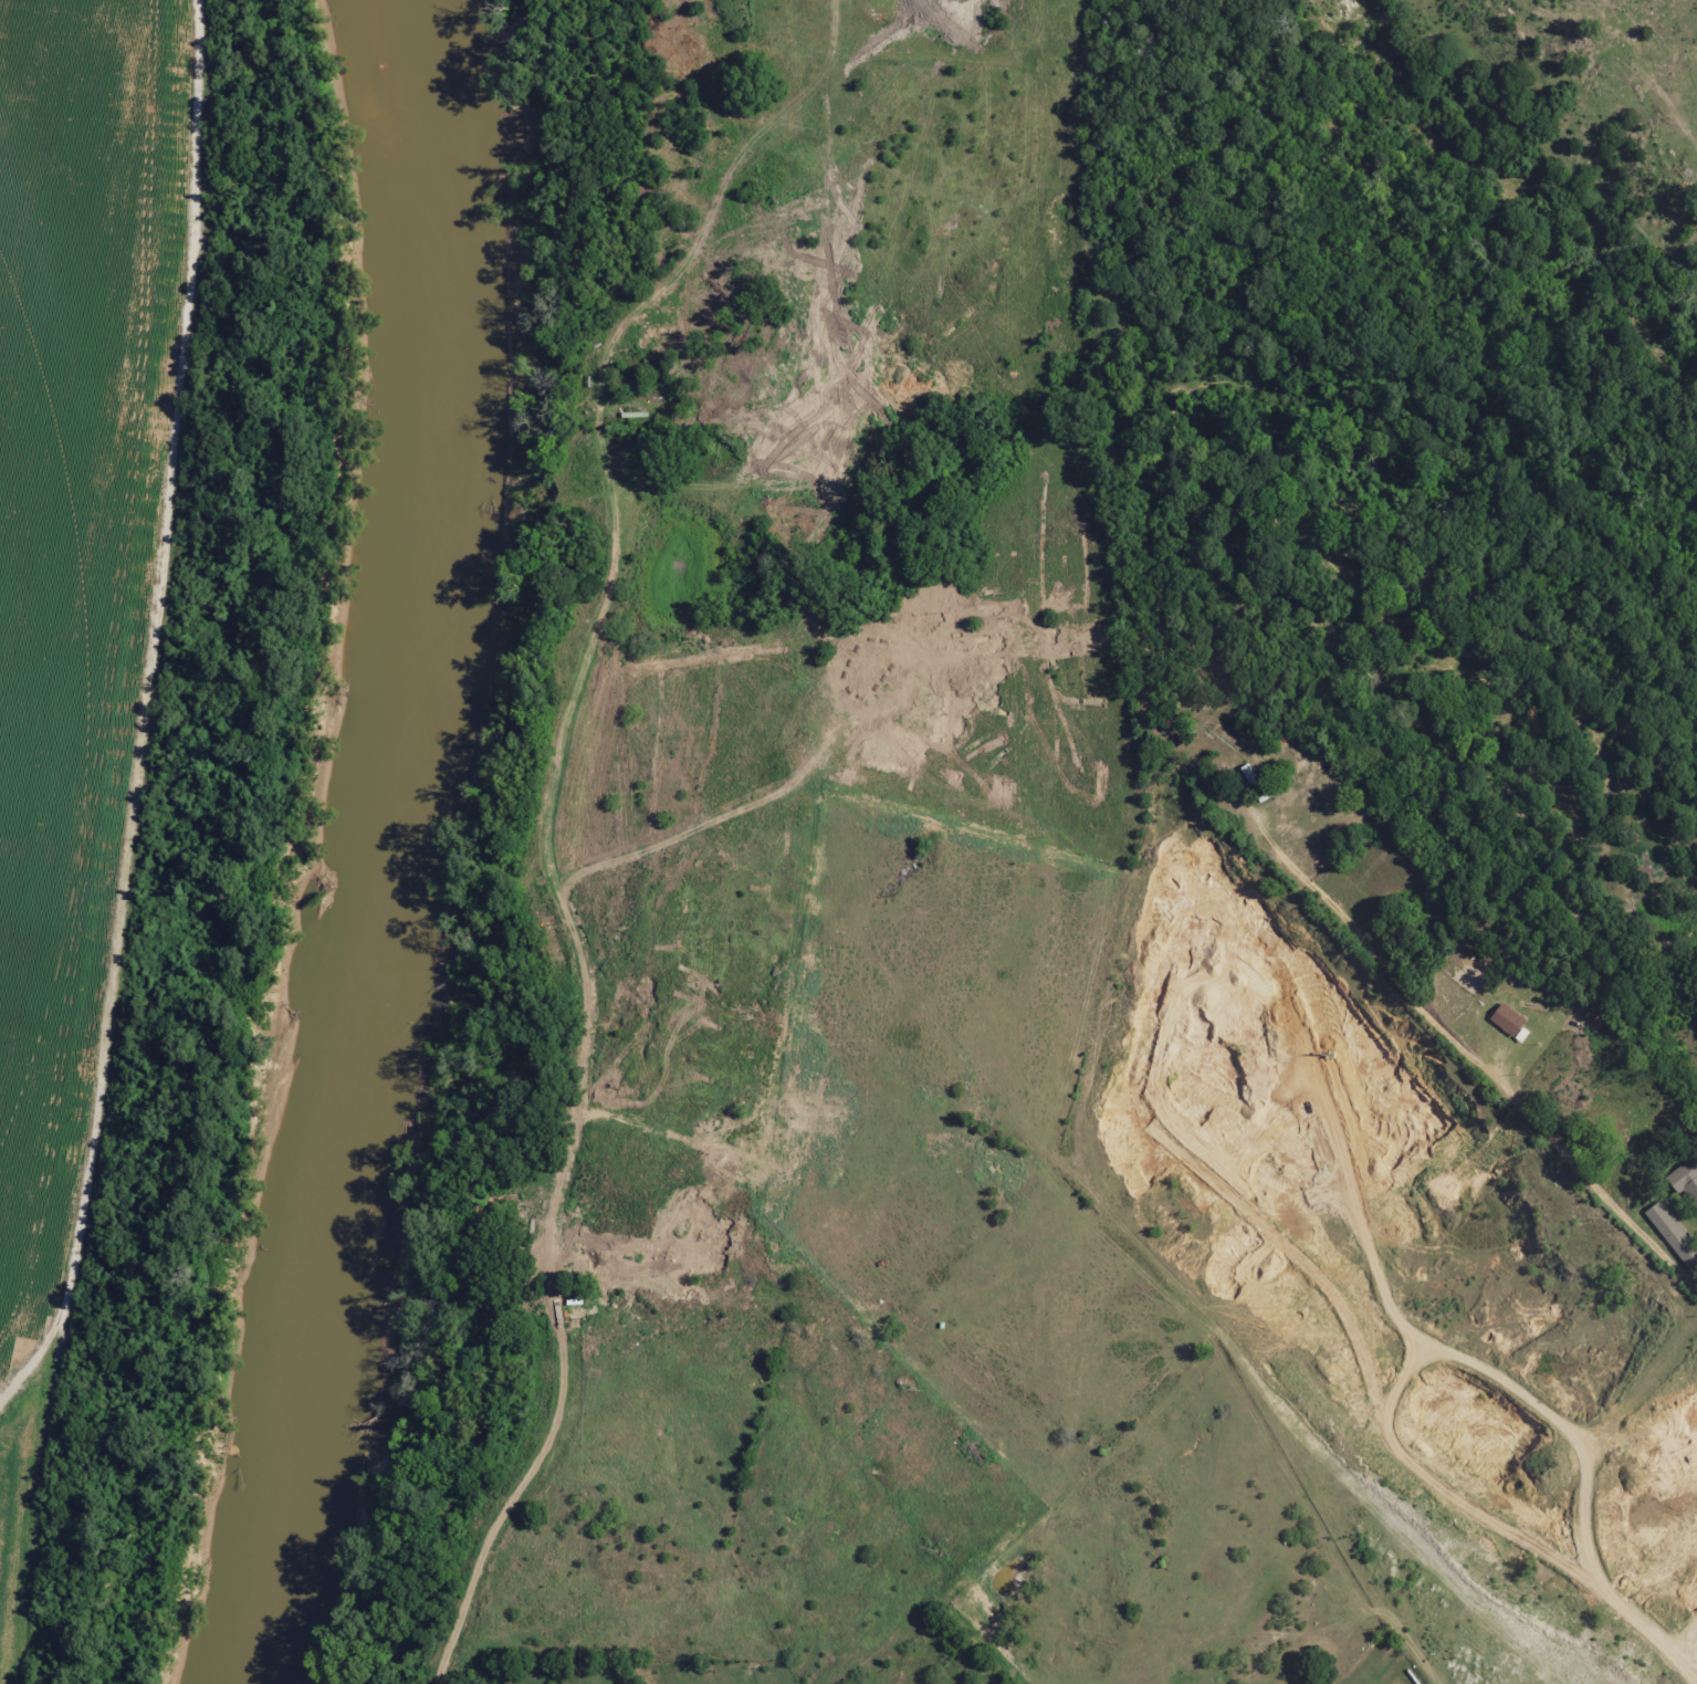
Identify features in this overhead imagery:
road: (144, 710)
river: (368, 841)
building: (1510, 1021)
road: (1454, 1046)
building: (1685, 1179)
building: (1672, 1233)

